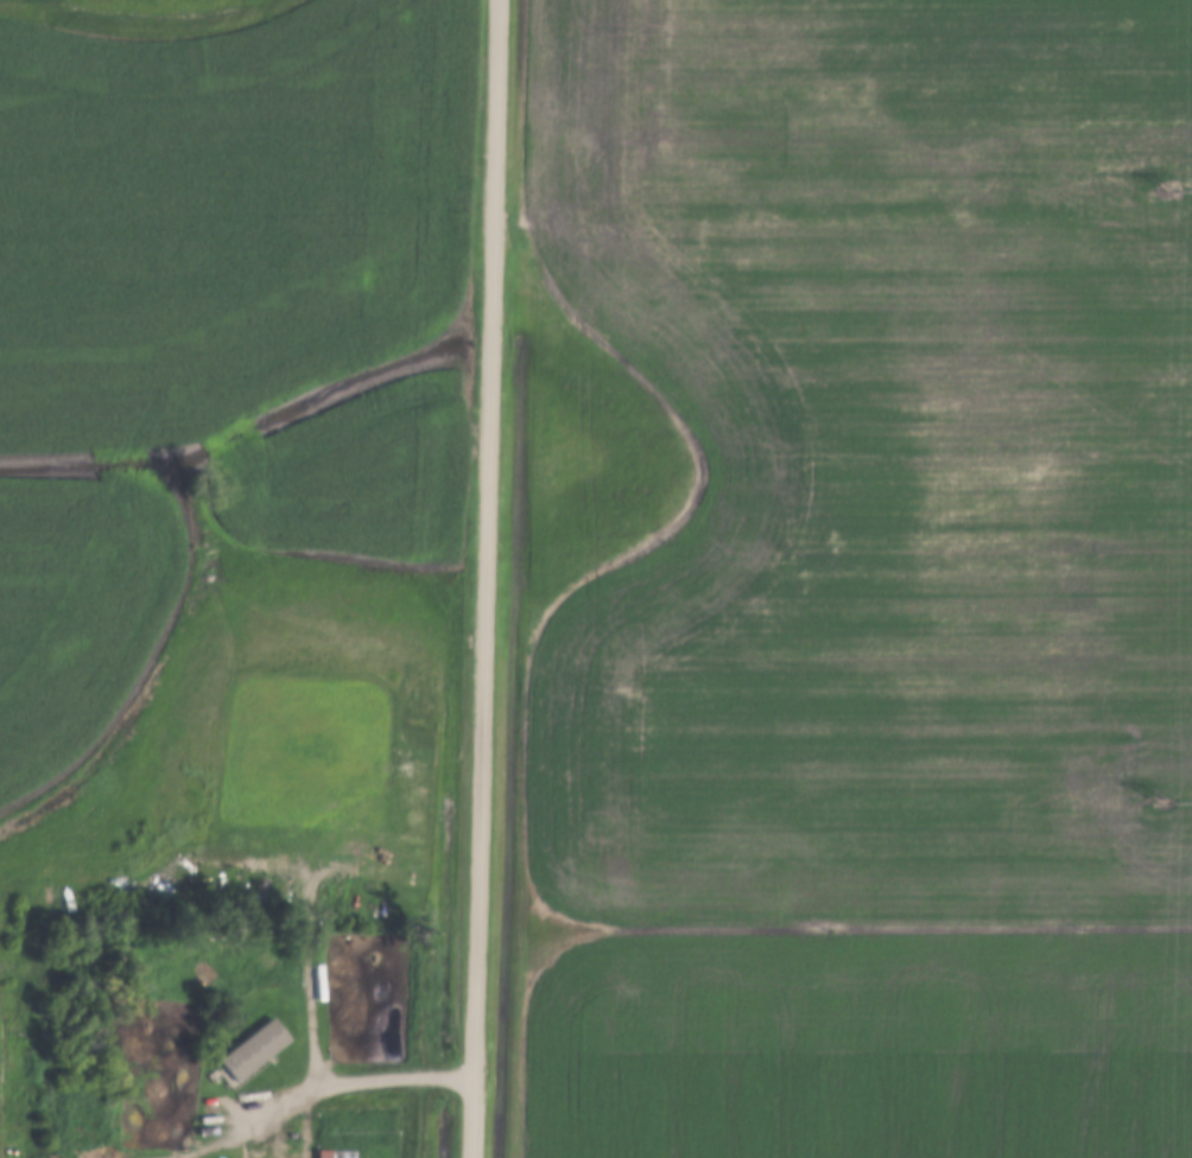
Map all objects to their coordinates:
power tower: (1167, 189)
crop: (223, 210)
crop: (354, 472)
road: (481, 578)
crop: (874, 585)
crop: (75, 609)
power tower: (1160, 802)
building: (248, 1050)
road: (316, 1092)
building: (326, 1153)

